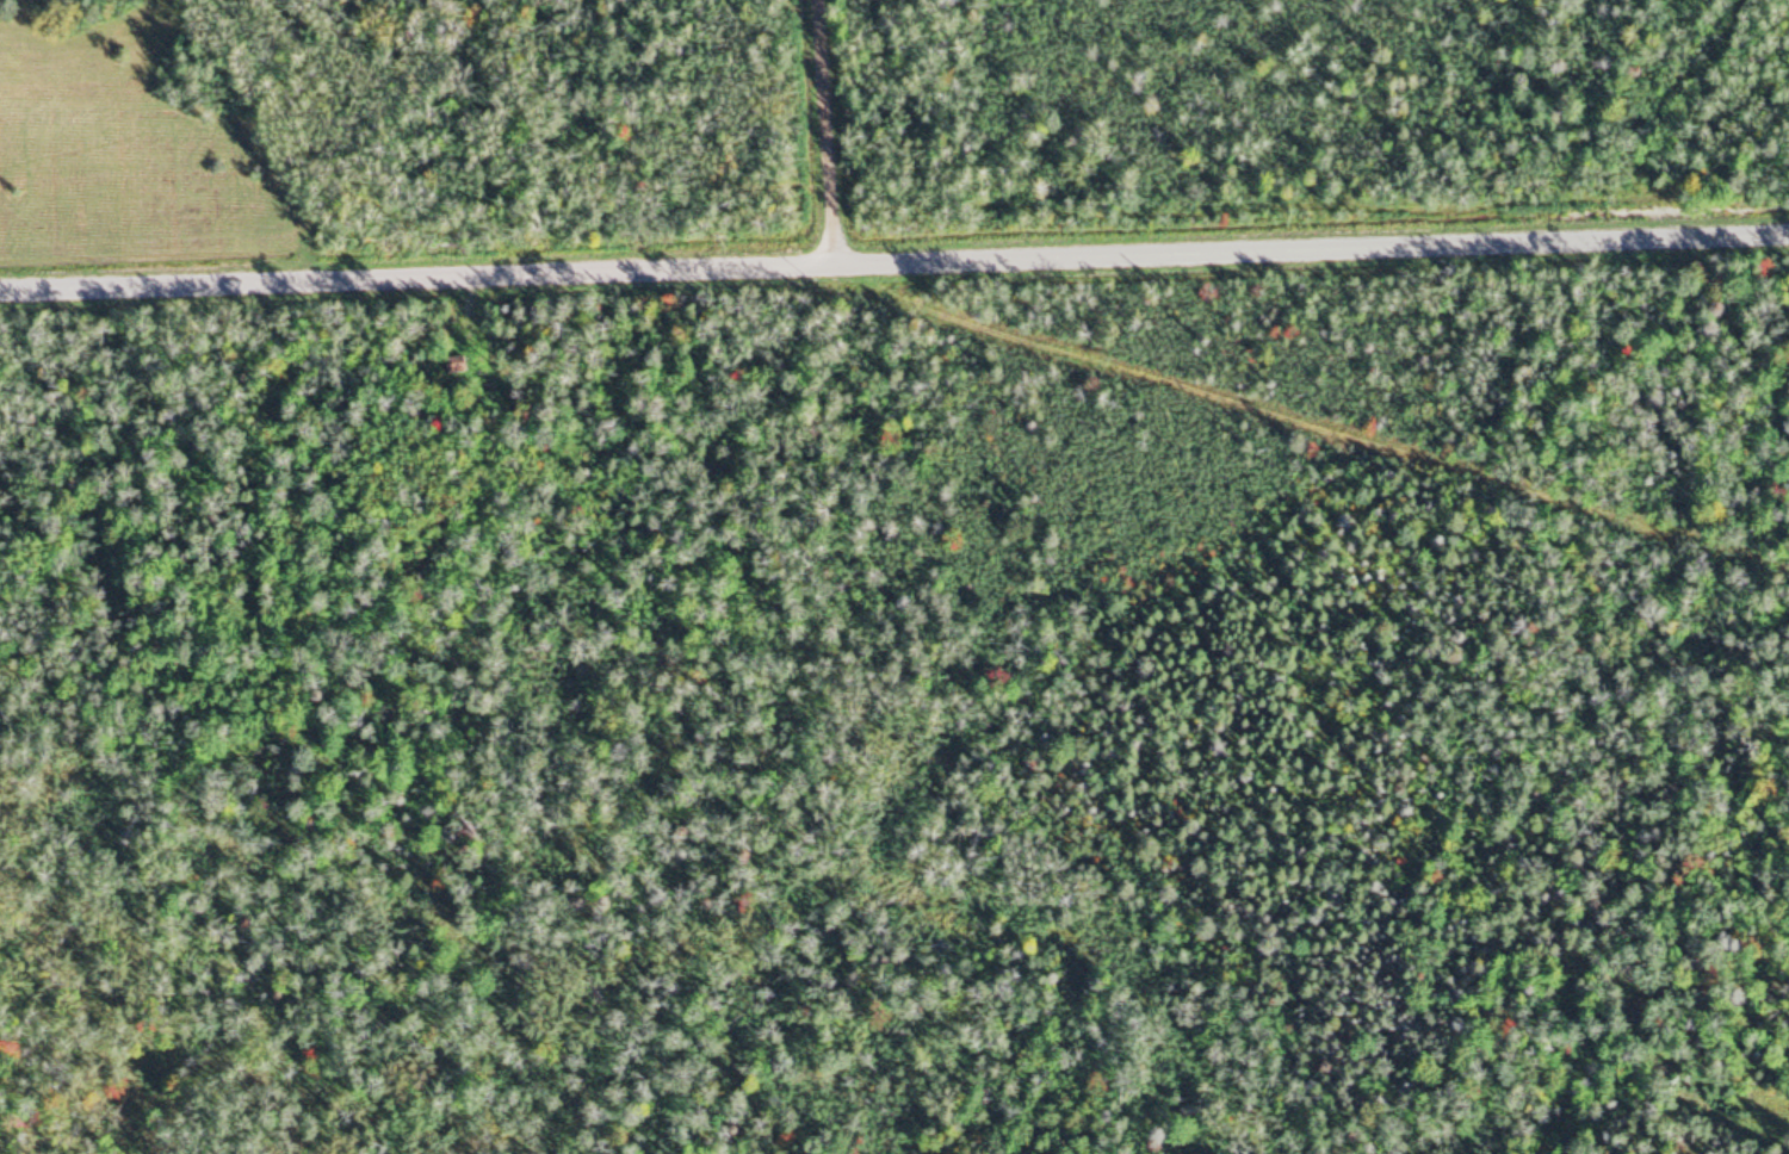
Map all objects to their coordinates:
road: (827, 129)
road: (895, 259)

